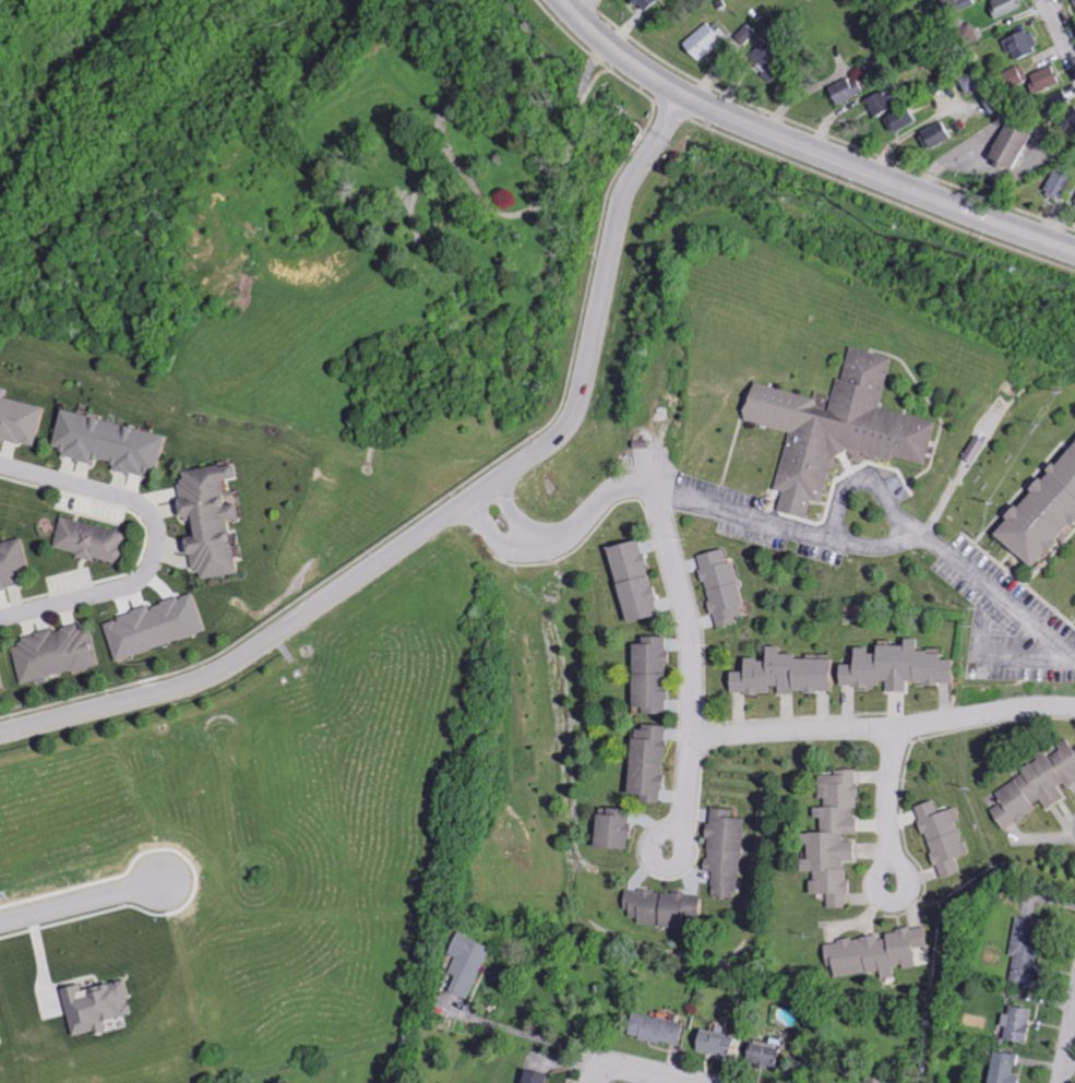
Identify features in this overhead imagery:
road: (573, 1)
building: (1073, 2)
building: (643, 3)
building: (956, 5)
building: (1003, 7)
road: (1061, 26)
building: (965, 35)
building: (703, 41)
building: (1019, 44)
building: (1027, 79)
building: (844, 91)
building: (876, 104)
building: (898, 120)
building: (932, 136)
road: (811, 138)
building: (1006, 146)
road: (955, 157)
building: (1056, 186)
building: (22, 417)
building: (835, 429)
building: (111, 443)
road: (451, 509)
building: (1040, 510)
building: (214, 524)
road: (822, 534)
road: (563, 536)
building: (96, 539)
road: (160, 539)
road: (932, 546)
building: (15, 563)
building: (631, 581)
building: (719, 587)
building: (162, 626)
road: (695, 647)
building: (59, 652)
road: (1026, 655)
building: (895, 667)
building: (780, 675)
building: (648, 676)
building: (2, 677)
road: (887, 728)
building: (645, 764)
road: (893, 783)
building: (1035, 786)
building: (610, 831)
building: (831, 838)
building: (941, 838)
building: (722, 854)
road: (877, 892)
road: (82, 901)
building: (658, 907)
building: (1022, 951)
building: (875, 953)
building: (471, 965)
building: (101, 1005)
building: (1014, 1024)
building: (653, 1028)
road: (531, 1034)
building: (1, 1035)
building: (712, 1043)
road: (1070, 1058)
building: (1001, 1068)
road: (652, 1073)
road: (601, 1074)
building: (530, 1076)
building: (871, 1080)

